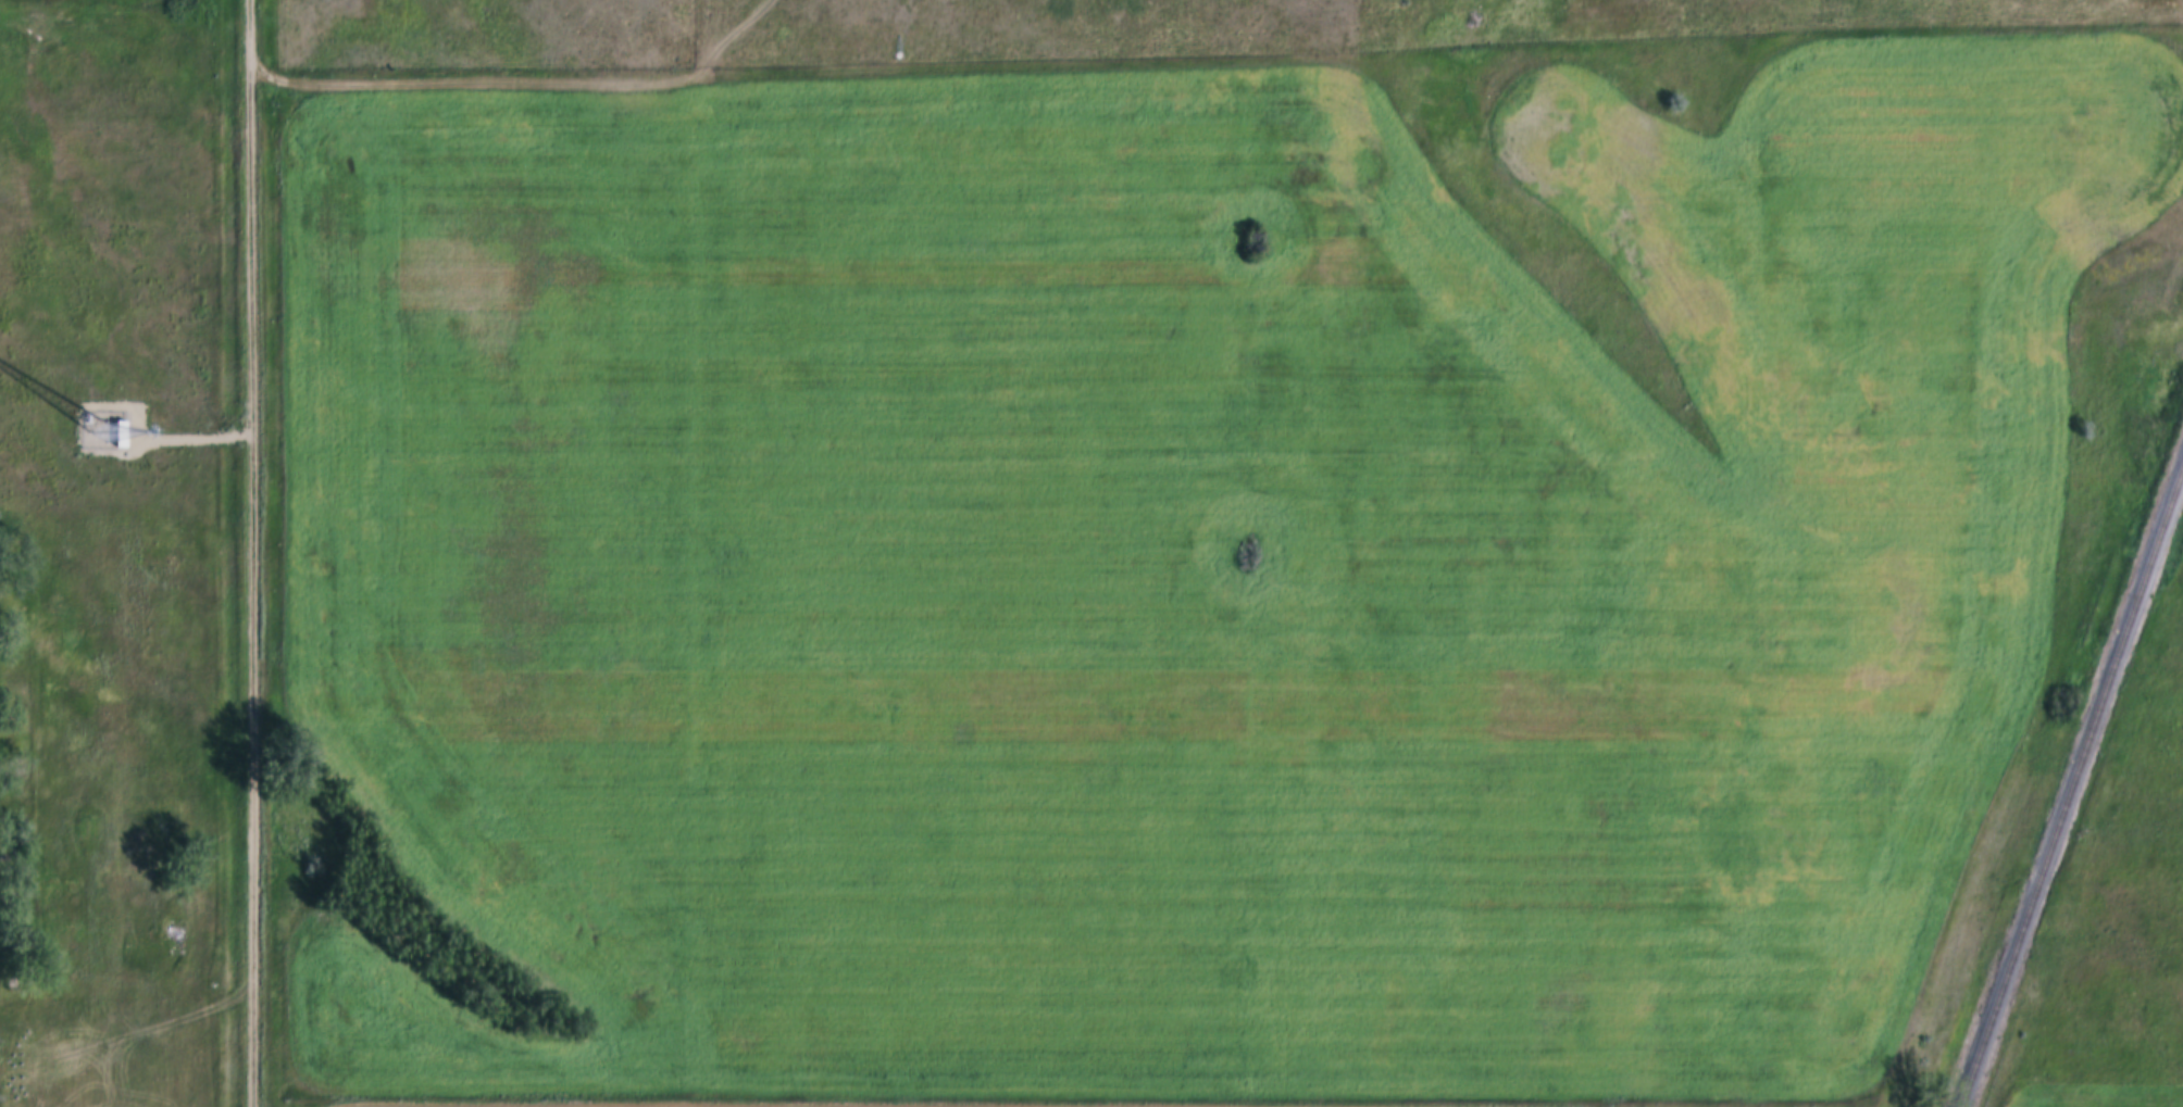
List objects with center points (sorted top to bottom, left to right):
building: (114, 422)
road: (258, 553)
railway: (2071, 783)

